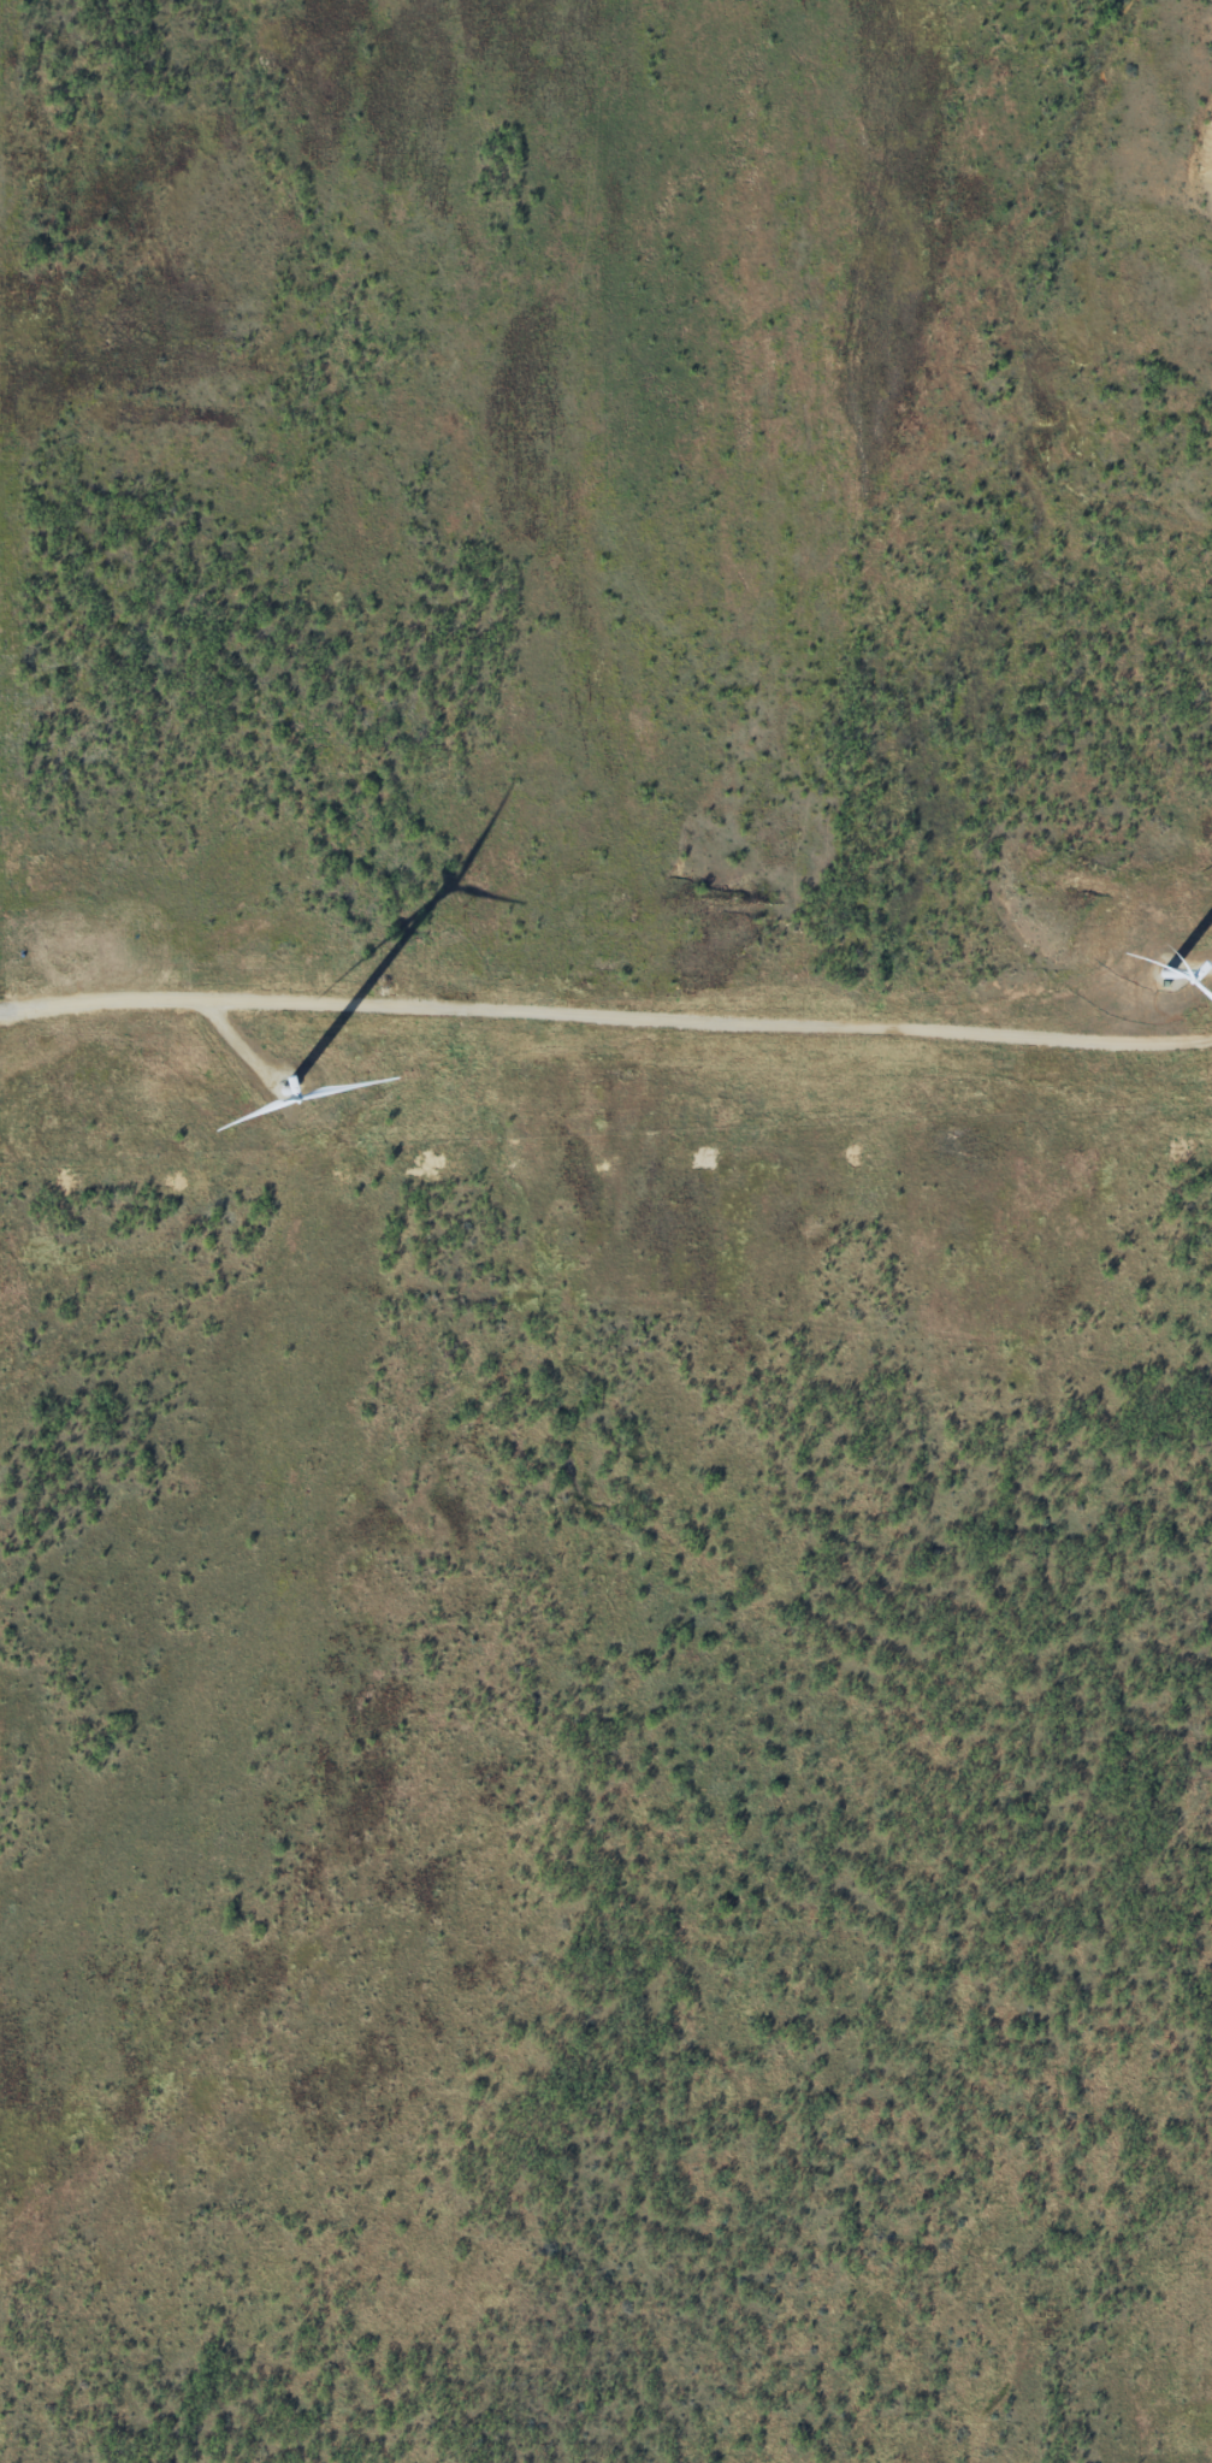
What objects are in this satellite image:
wind turbine: (1165, 980)
wind turbine: (283, 1091)

